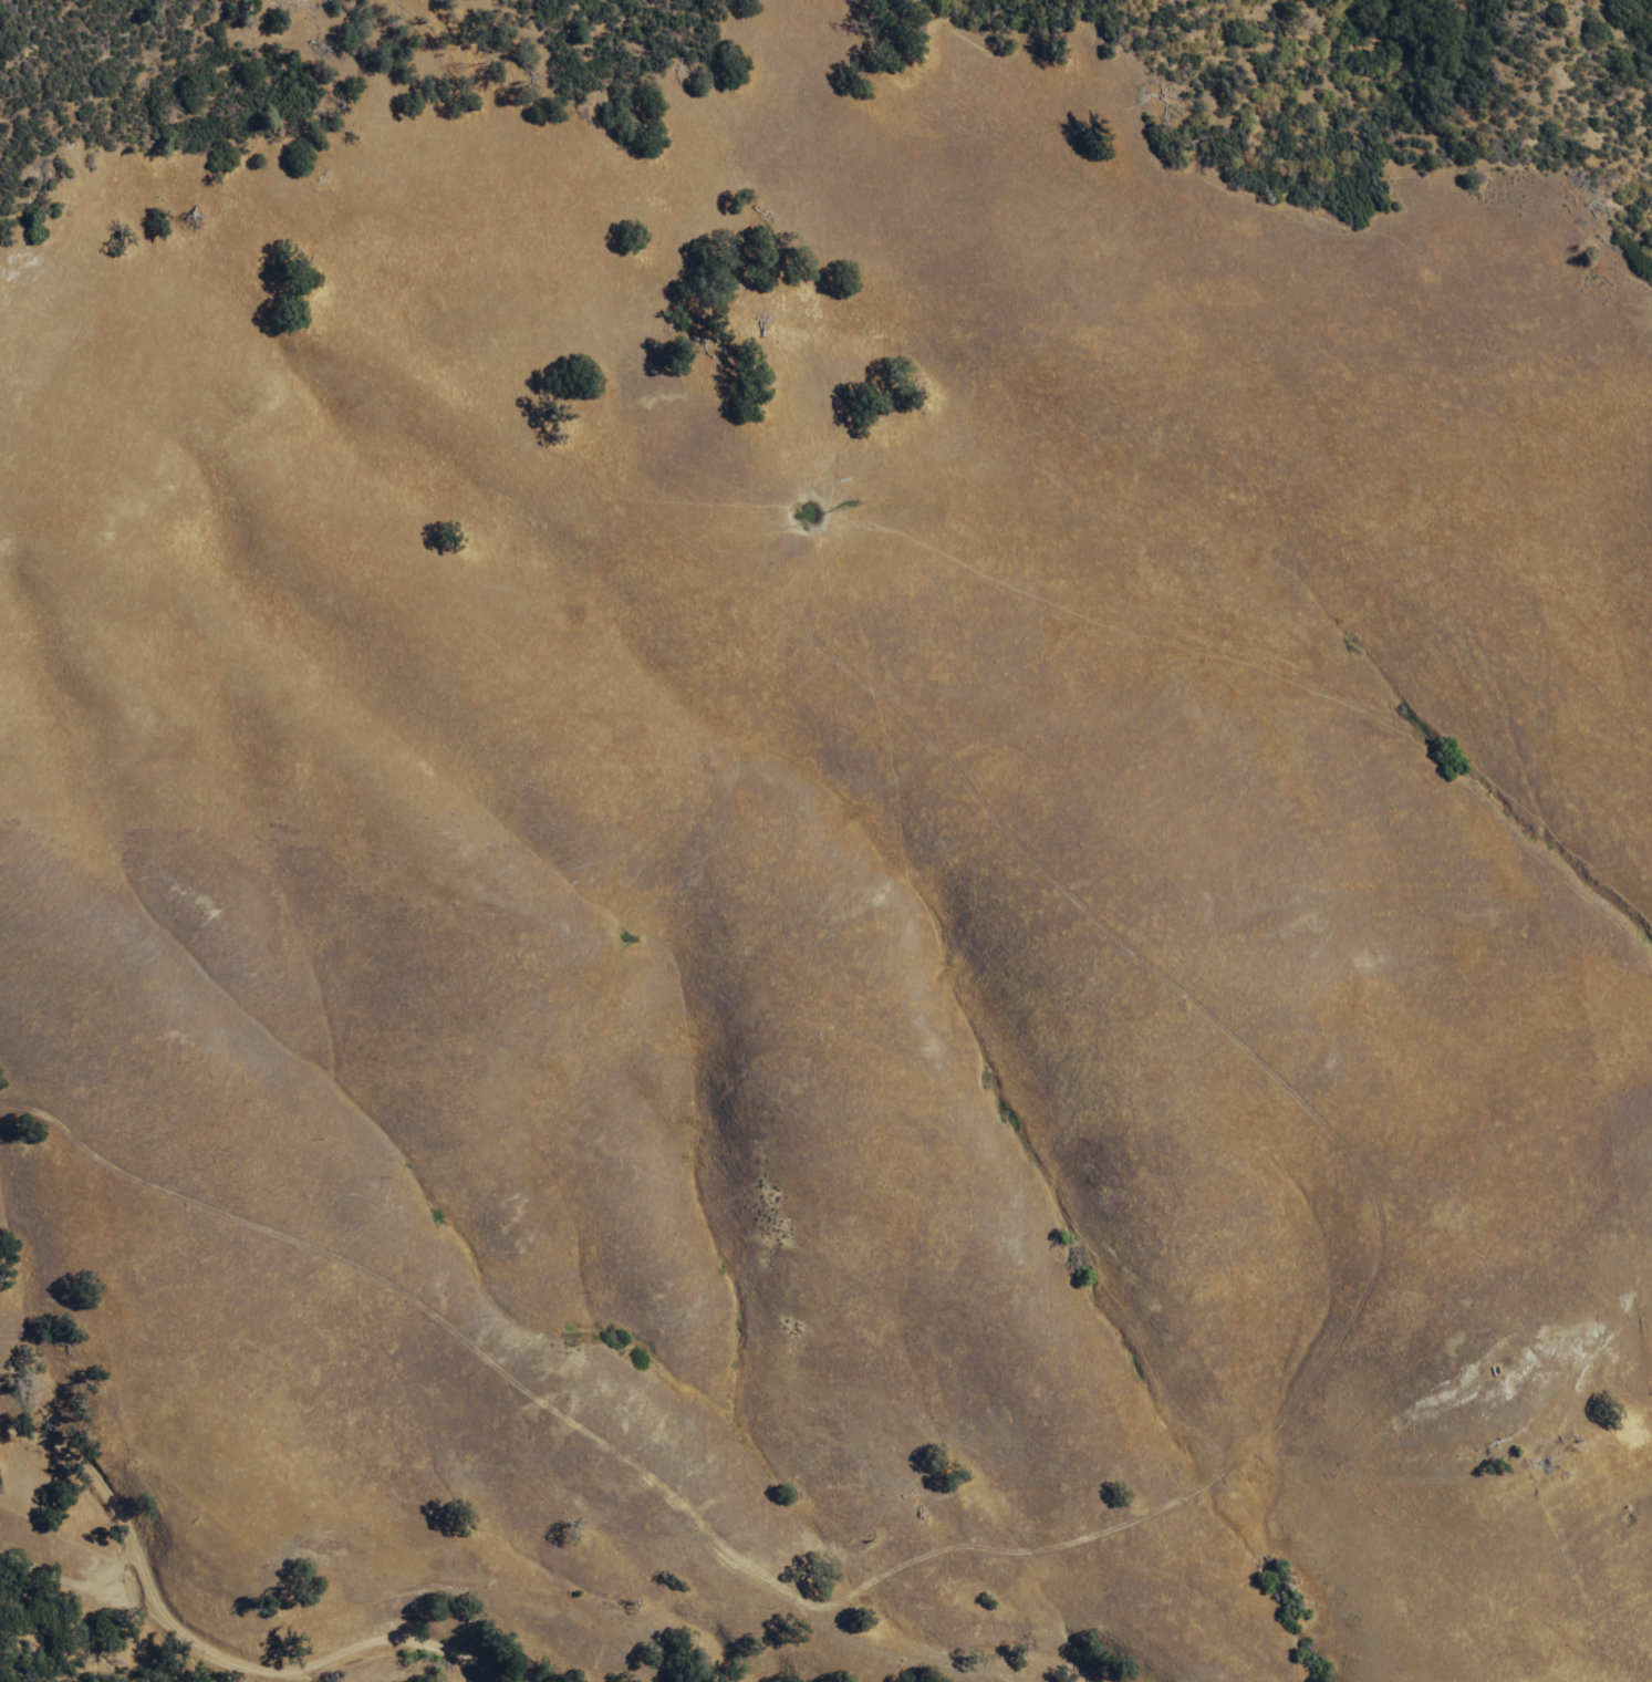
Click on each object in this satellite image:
road: (1073, 1530)
road: (71, 1586)
road: (222, 1650)

